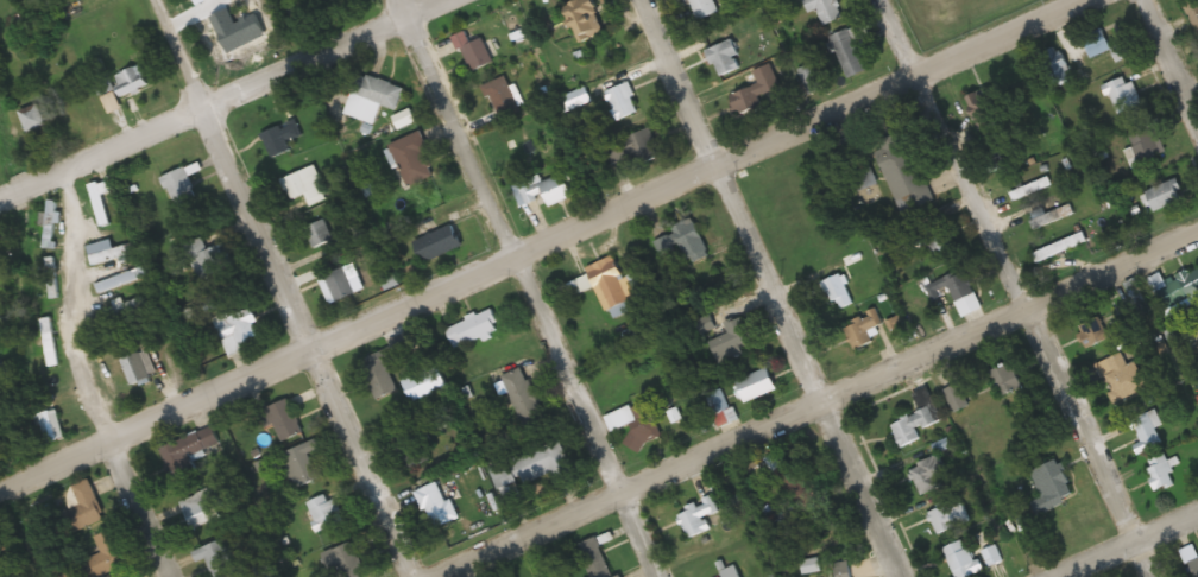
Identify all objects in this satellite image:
building: (705, 7)
building: (826, 9)
building: (1193, 17)
building: (591, 18)
building: (852, 50)
building: (478, 55)
road: (1174, 56)
building: (726, 57)
building: (1054, 68)
building: (131, 81)
building: (758, 90)
building: (503, 96)
building: (1124, 96)
building: (371, 97)
road: (216, 99)
building: (580, 100)
building: (626, 101)
building: (985, 109)
building: (32, 118)
building: (280, 138)
building: (1142, 146)
building: (633, 150)
building: (414, 159)
building: (904, 172)
building: (305, 185)
building: (179, 186)
building: (1038, 186)
building: (549, 190)
building: (1167, 195)
building: (1052, 217)
building: (317, 235)
building: (935, 241)
road: (543, 242)
building: (440, 243)
building: (685, 243)
building: (1060, 247)
building: (204, 258)
building: (139, 266)
building: (339, 285)
building: (960, 286)
building: (1161, 286)
road: (289, 287)
road: (527, 287)
building: (616, 287)
road: (770, 288)
road: (1015, 288)
building: (839, 292)
building: (941, 303)
building: (473, 329)
building: (239, 331)
building: (901, 331)
building: (1096, 336)
building: (733, 337)
building: (135, 368)
building: (379, 375)
building: (1122, 378)
road: (84, 380)
building: (1007, 380)
building: (757, 385)
building: (523, 397)
building: (956, 398)
road: (811, 407)
building: (282, 420)
building: (914, 420)
building: (638, 424)
building: (1147, 432)
building: (411, 448)
building: (187, 452)
building: (303, 462)
building: (532, 467)
building: (1162, 473)
building: (786, 476)
building: (928, 476)
building: (1053, 484)
building: (436, 506)
building: (202, 508)
building: (81, 509)
building: (323, 513)
building: (695, 516)
building: (948, 518)
road: (1127, 545)
building: (105, 557)
building: (219, 559)
building: (593, 559)
building: (345, 560)
building: (964, 564)
building: (1196, 565)
building: (731, 572)
building: (619, 576)

